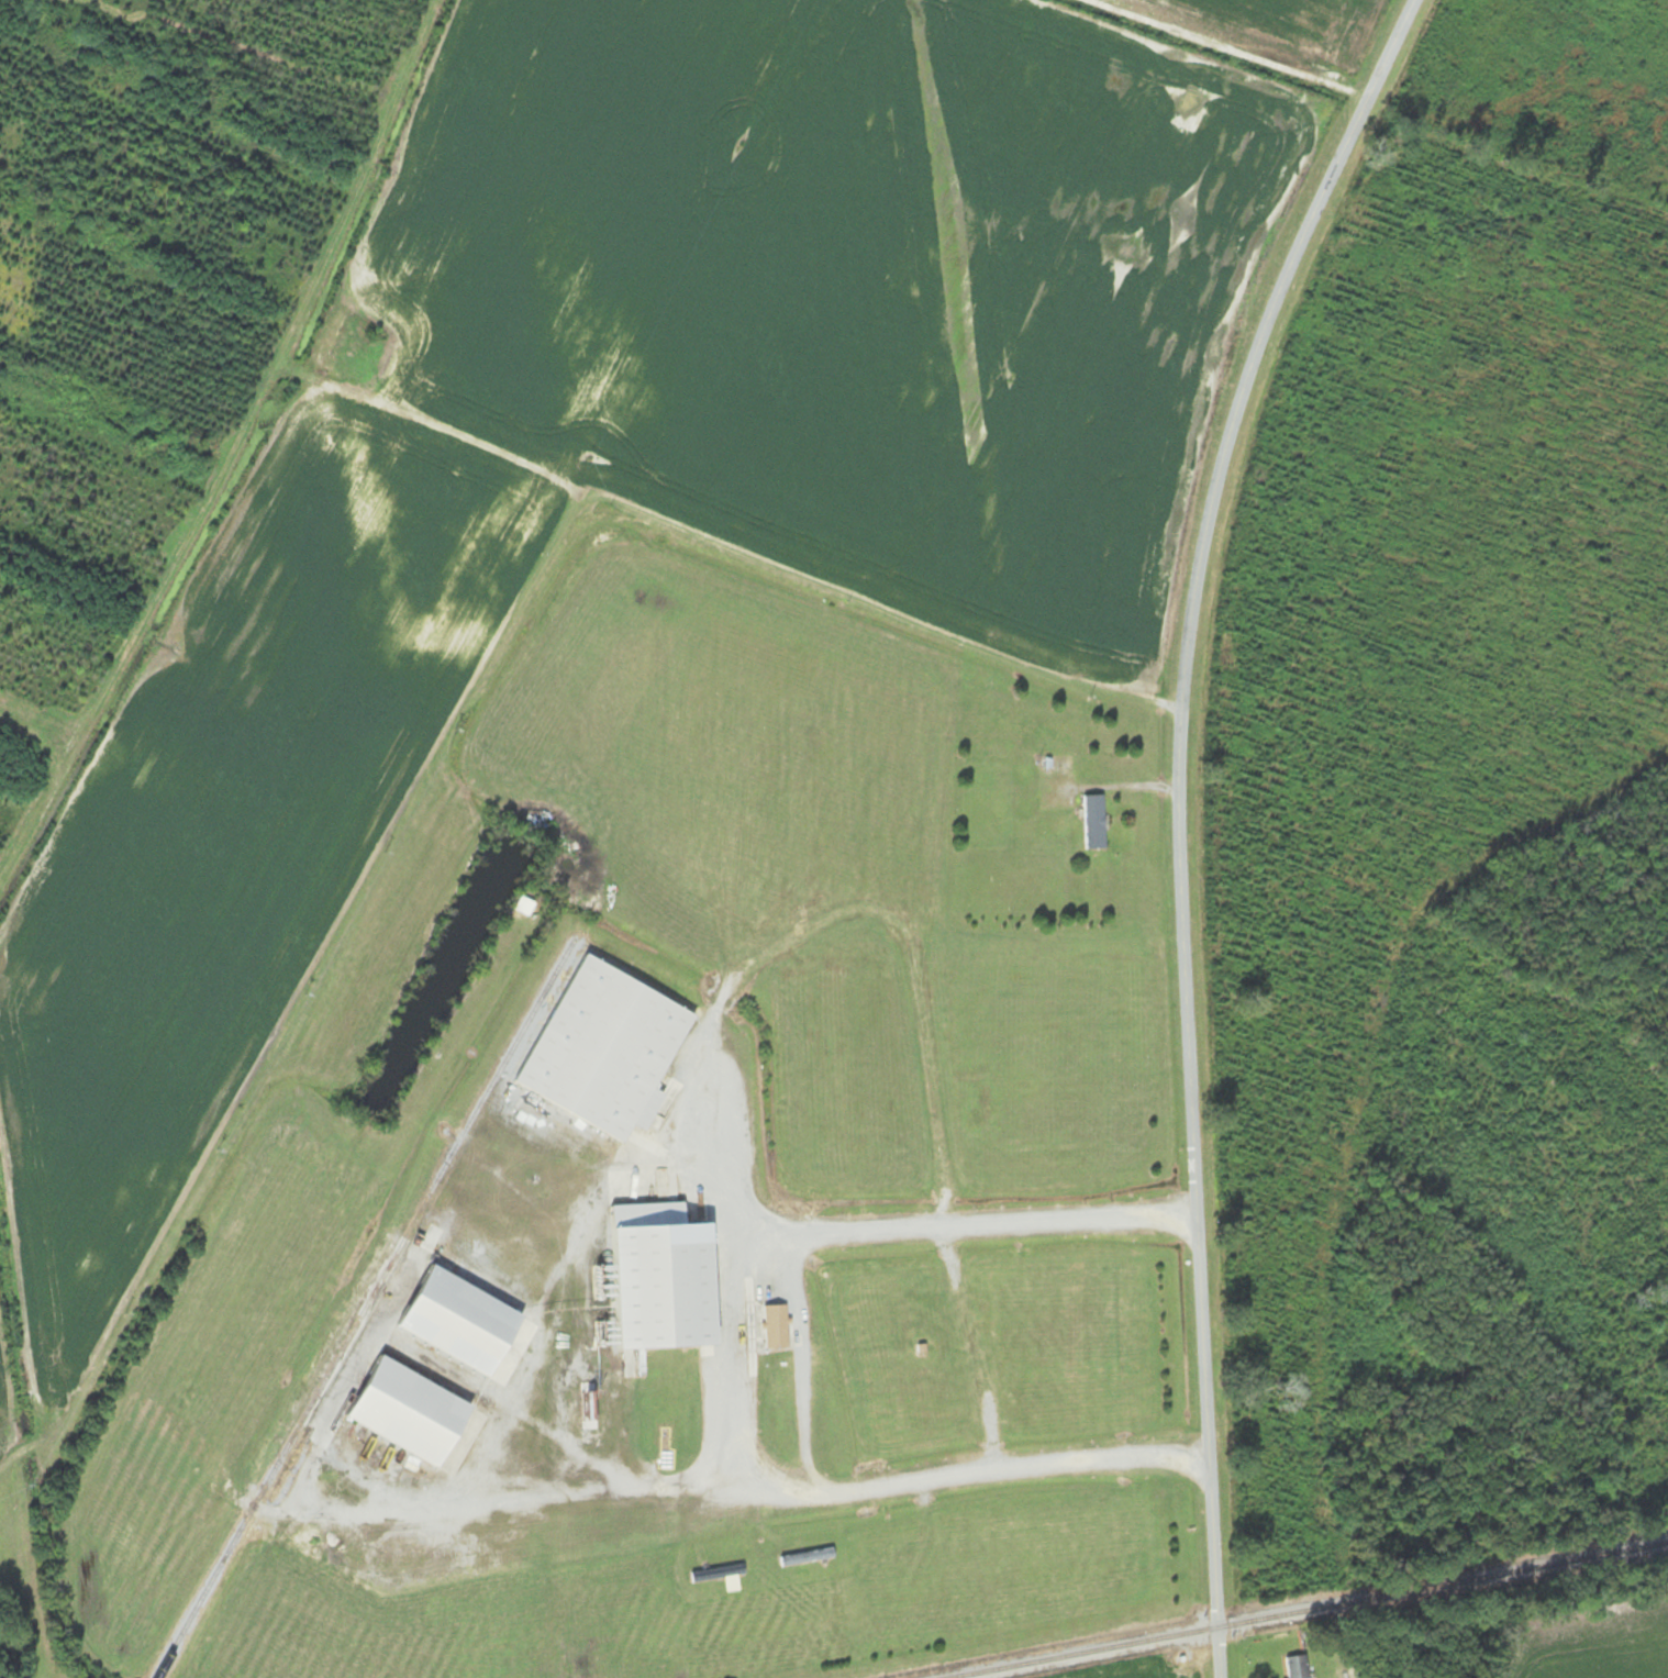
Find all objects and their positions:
road: (1178, 818)
building: (1093, 820)
building: (607, 1048)
building: (664, 1278)
railway: (363, 1309)
building: (462, 1321)
building: (775, 1327)
road: (733, 1369)
building: (410, 1412)
building: (805, 1557)
building: (720, 1576)
railway: (1310, 1610)
building: (1297, 1667)

